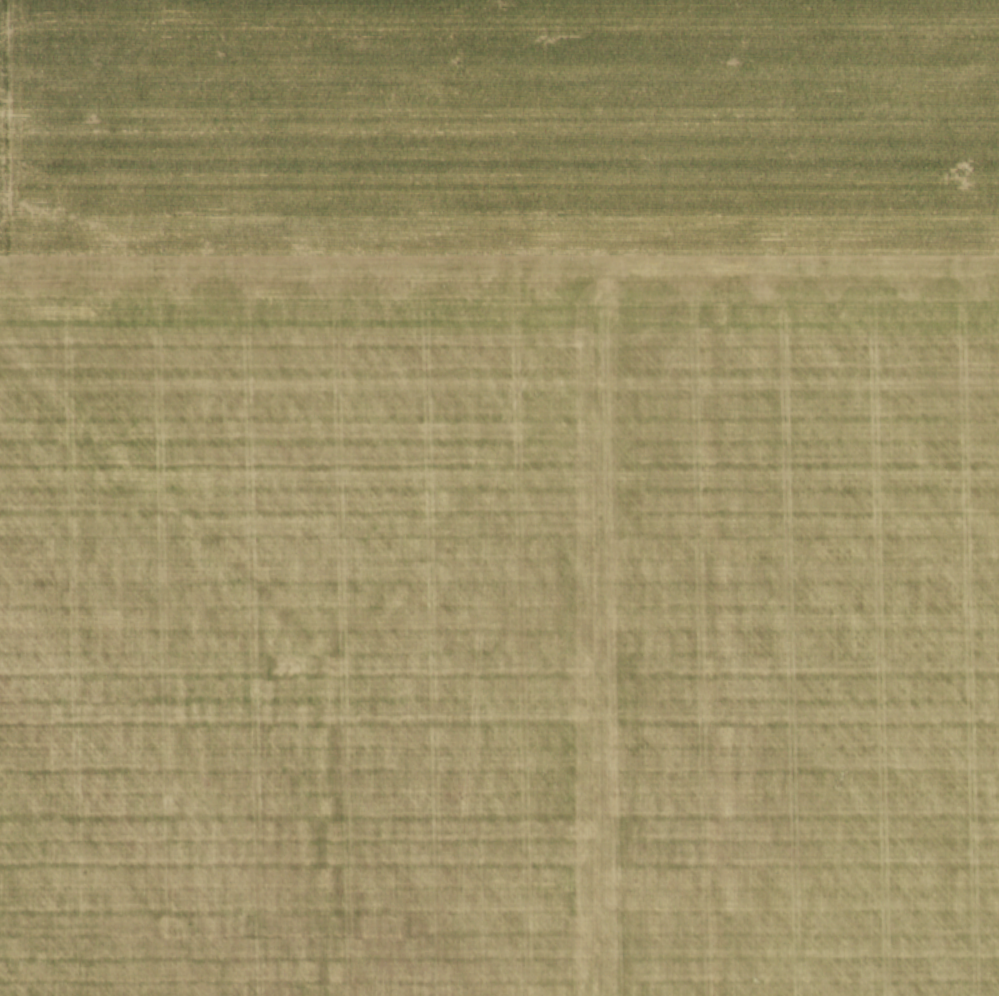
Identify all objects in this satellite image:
crop: (499, 498)

